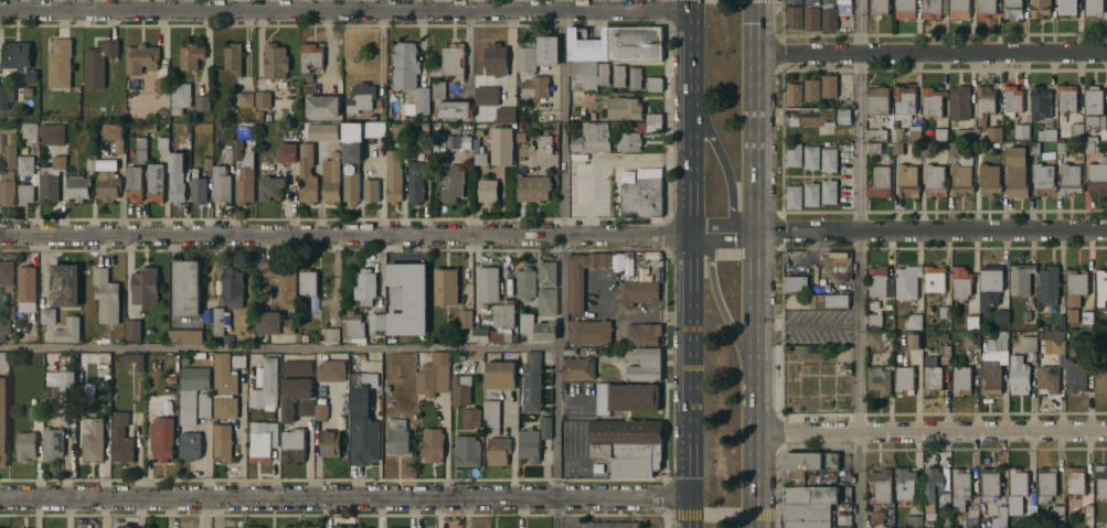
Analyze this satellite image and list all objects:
building: (829, 0)
building: (794, 1)
building: (811, 1)
road: (613, 6)
road: (691, 6)
building: (879, 8)
building: (1066, 8)
building: (904, 9)
building: (934, 9)
building: (959, 9)
building: (984, 9)
building: (1040, 9)
building: (1094, 9)
building: (844, 10)
building: (1012, 10)
road: (345, 12)
building: (794, 19)
building: (811, 19)
building: (829, 20)
road: (753, 28)
building: (634, 44)
building: (546, 52)
road: (929, 54)
building: (190, 57)
building: (309, 57)
building: (525, 58)
building: (18, 60)
building: (140, 60)
building: (233, 60)
building: (496, 61)
building: (98, 63)
building: (450, 63)
building: (58, 65)
building: (275, 65)
building: (405, 66)
building: (587, 75)
building: (618, 76)
building: (635, 78)
building: (653, 85)
building: (160, 86)
road: (690, 87)
building: (829, 87)
building: (534, 88)
building: (437, 90)
building: (811, 91)
building: (794, 95)
building: (486, 96)
building: (6, 97)
building: (179, 98)
building: (360, 99)
building: (245, 100)
building: (1066, 100)
building: (263, 101)
building: (877, 101)
building: (1094, 101)
building: (904, 103)
building: (932, 103)
building: (1011, 103)
building: (419, 104)
building: (959, 104)
building: (1040, 104)
building: (201, 105)
building: (983, 106)
building: (322, 108)
building: (504, 108)
building: (622, 108)
building: (451, 111)
building: (816, 117)
building: (652, 118)
building: (1095, 123)
building: (648, 127)
building: (28, 131)
building: (1021, 131)
building: (1076, 131)
building: (322, 132)
building: (397, 132)
building: (51, 133)
building: (913, 133)
building: (940, 134)
building: (993, 134)
building: (1046, 134)
building: (876, 136)
building: (898, 136)
building: (965, 136)
building: (114, 137)
building: (888, 138)
building: (593, 140)
building: (421, 141)
building: (453, 142)
building: (629, 142)
building: (161, 143)
building: (437, 143)
building: (466, 143)
building: (541, 144)
road: (752, 144)
building: (1090, 146)
building: (501, 147)
building: (8, 148)
building: (140, 149)
building: (874, 149)
building: (897, 149)
building: (925, 149)
building: (1061, 149)
building: (951, 150)
building: (1034, 150)
building: (286, 154)
building: (354, 155)
building: (792, 155)
building: (810, 158)
building: (479, 159)
road: (600, 161)
building: (828, 161)
building: (966, 161)
building: (24, 165)
building: (91, 165)
road: (724, 165)
building: (243, 171)
building: (1015, 173)
building: (1098, 176)
building: (330, 179)
building: (393, 179)
building: (50, 180)
building: (175, 180)
parking lot: (600, 180)
building: (988, 180)
building: (1069, 180)
building: (306, 181)
building: (934, 181)
building: (961, 181)
building: (1043, 181)
building: (415, 182)
building: (907, 182)
building: (134, 183)
building: (155, 183)
building: (451, 183)
building: (880, 183)
building: (107, 186)
building: (221, 186)
building: (77, 187)
building: (198, 188)
building: (533, 188)
building: (7, 190)
building: (270, 190)
building: (370, 192)
building: (487, 192)
building: (828, 192)
building: (24, 195)
building: (810, 195)
building: (792, 197)
building: (641, 198)
road: (686, 198)
road: (929, 231)
road: (342, 234)
road: (719, 234)
road: (561, 263)
road: (860, 263)
building: (266, 269)
building: (545, 274)
building: (7, 276)
road: (685, 276)
building: (582, 277)
building: (1021, 279)
building: (934, 280)
building: (877, 282)
building: (907, 282)
building: (961, 283)
building: (1101, 283)
building: (307, 284)
building: (525, 284)
building: (796, 284)
building: (25, 285)
building: (1047, 285)
building: (64, 287)
building: (143, 287)
building: (445, 287)
building: (487, 287)
building: (990, 287)
building: (1075, 287)
building: (364, 288)
building: (187, 289)
building: (232, 289)
building: (286, 290)
building: (637, 293)
building: (106, 298)
building: (408, 300)
building: (828, 301)
building: (546, 303)
road: (720, 305)
parking lot: (614, 306)
road: (626, 313)
building: (944, 313)
building: (502, 314)
building: (45, 315)
building: (1001, 317)
building: (1029, 317)
building: (1086, 319)
building: (7, 320)
building: (465, 320)
building: (877, 322)
building: (914, 322)
building: (217, 323)
building: (971, 323)
building: (1060, 323)
building: (525, 324)
building: (273, 325)
building: (377, 327)
building: (352, 330)
building: (131, 331)
building: (67, 332)
building: (545, 332)
building: (588, 333)
building: (642, 335)
building: (332, 336)
building: (485, 336)
building: (184, 337)
building: (944, 337)
building: (970, 341)
building: (1087, 341)
building: (880, 342)
building: (914, 342)
building: (997, 342)
building: (1028, 345)
building: (1057, 349)
road: (278, 351)
building: (946, 352)
building: (992, 357)
building: (3, 358)
building: (236, 360)
building: (134, 362)
building: (650, 365)
building: (50, 366)
building: (466, 367)
building: (891, 368)
building: (148, 369)
building: (296, 369)
building: (577, 369)
building: (847, 369)
building: (330, 371)
building: (429, 375)
building: (500, 376)
building: (932, 376)
building: (1100, 376)
building: (1075, 377)
building: (268, 378)
building: (990, 378)
building: (879, 379)
building: (1049, 379)
road: (752, 380)
building: (1019, 380)
building: (60, 381)
building: (904, 381)
building: (960, 381)
building: (531, 382)
building: (223, 388)
building: (460, 391)
building: (191, 392)
building: (292, 396)
building: (66, 397)
building: (625, 398)
building: (203, 405)
building: (305, 409)
building: (319, 412)
building: (34, 414)
building: (492, 418)
building: (471, 419)
building: (2, 421)
road: (688, 421)
building: (362, 422)
building: (544, 428)
parking lot: (579, 431)
road: (929, 431)
building: (397, 438)
building: (161, 439)
building: (93, 441)
building: (120, 441)
building: (51, 443)
building: (330, 443)
building: (221, 444)
building: (259, 444)
building: (292, 445)
building: (433, 445)
building: (529, 445)
building: (25, 446)
building: (189, 446)
building: (628, 446)
road: (512, 448)
building: (467, 452)
building: (498, 452)
building: (811, 461)
building: (812, 474)
building: (794, 478)
building: (1074, 481)
building: (1100, 482)
building: (904, 484)
building: (989, 485)
building: (1045, 485)
building: (881, 486)
building: (960, 489)
building: (1016, 492)
building: (810, 495)
building: (932, 495)
road: (344, 498)
building: (1088, 510)
building: (806, 513)
building: (1031, 513)
building: (1056, 513)
building: (876, 518)
building: (971, 518)
building: (944, 519)
building: (999, 519)
building: (914, 522)
building: (805, 524)
building: (609, 525)
building: (126, 527)
building: (255, 527)
building: (291, 527)
building: (311, 527)
building: (341, 527)
building: (361, 527)
building: (394, 527)

